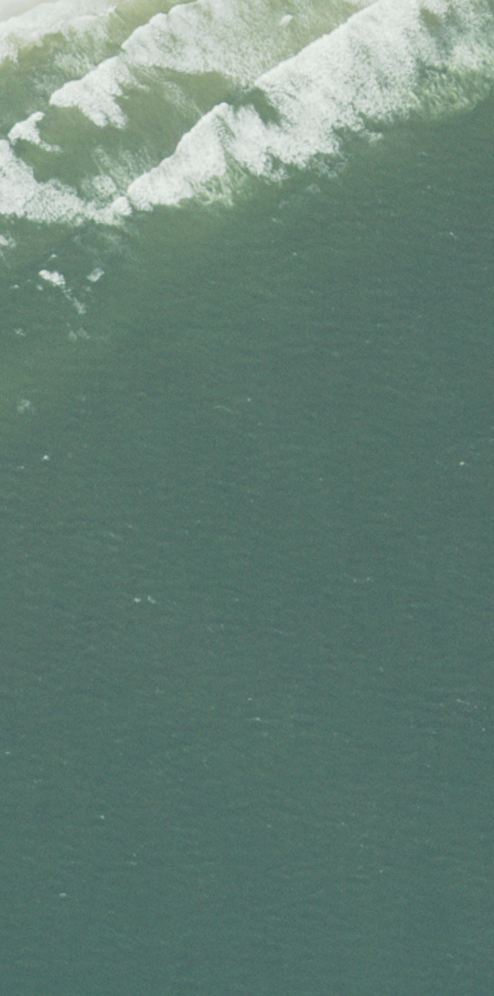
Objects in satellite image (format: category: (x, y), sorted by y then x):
park: (38, 15)

